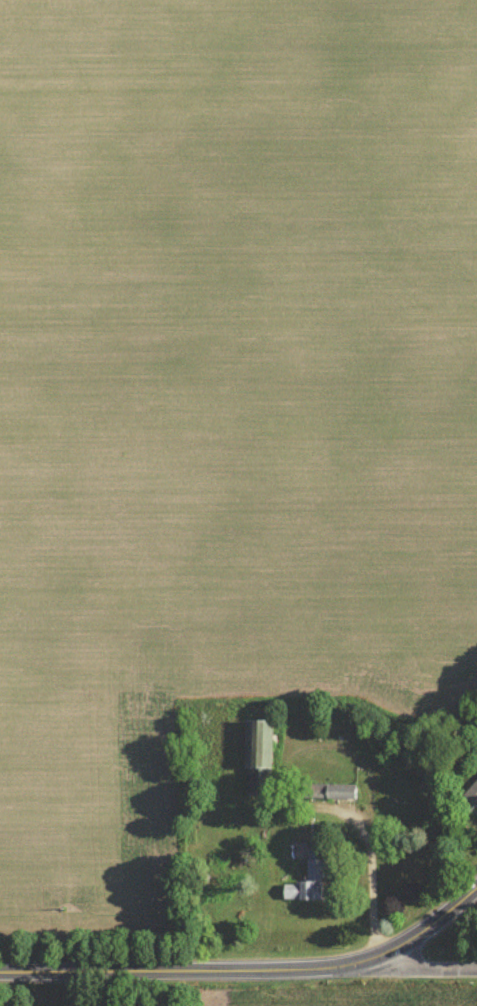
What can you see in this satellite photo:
building: (258, 760)
building: (471, 796)
building: (305, 887)
road: (420, 929)
road: (415, 964)
road: (177, 970)

